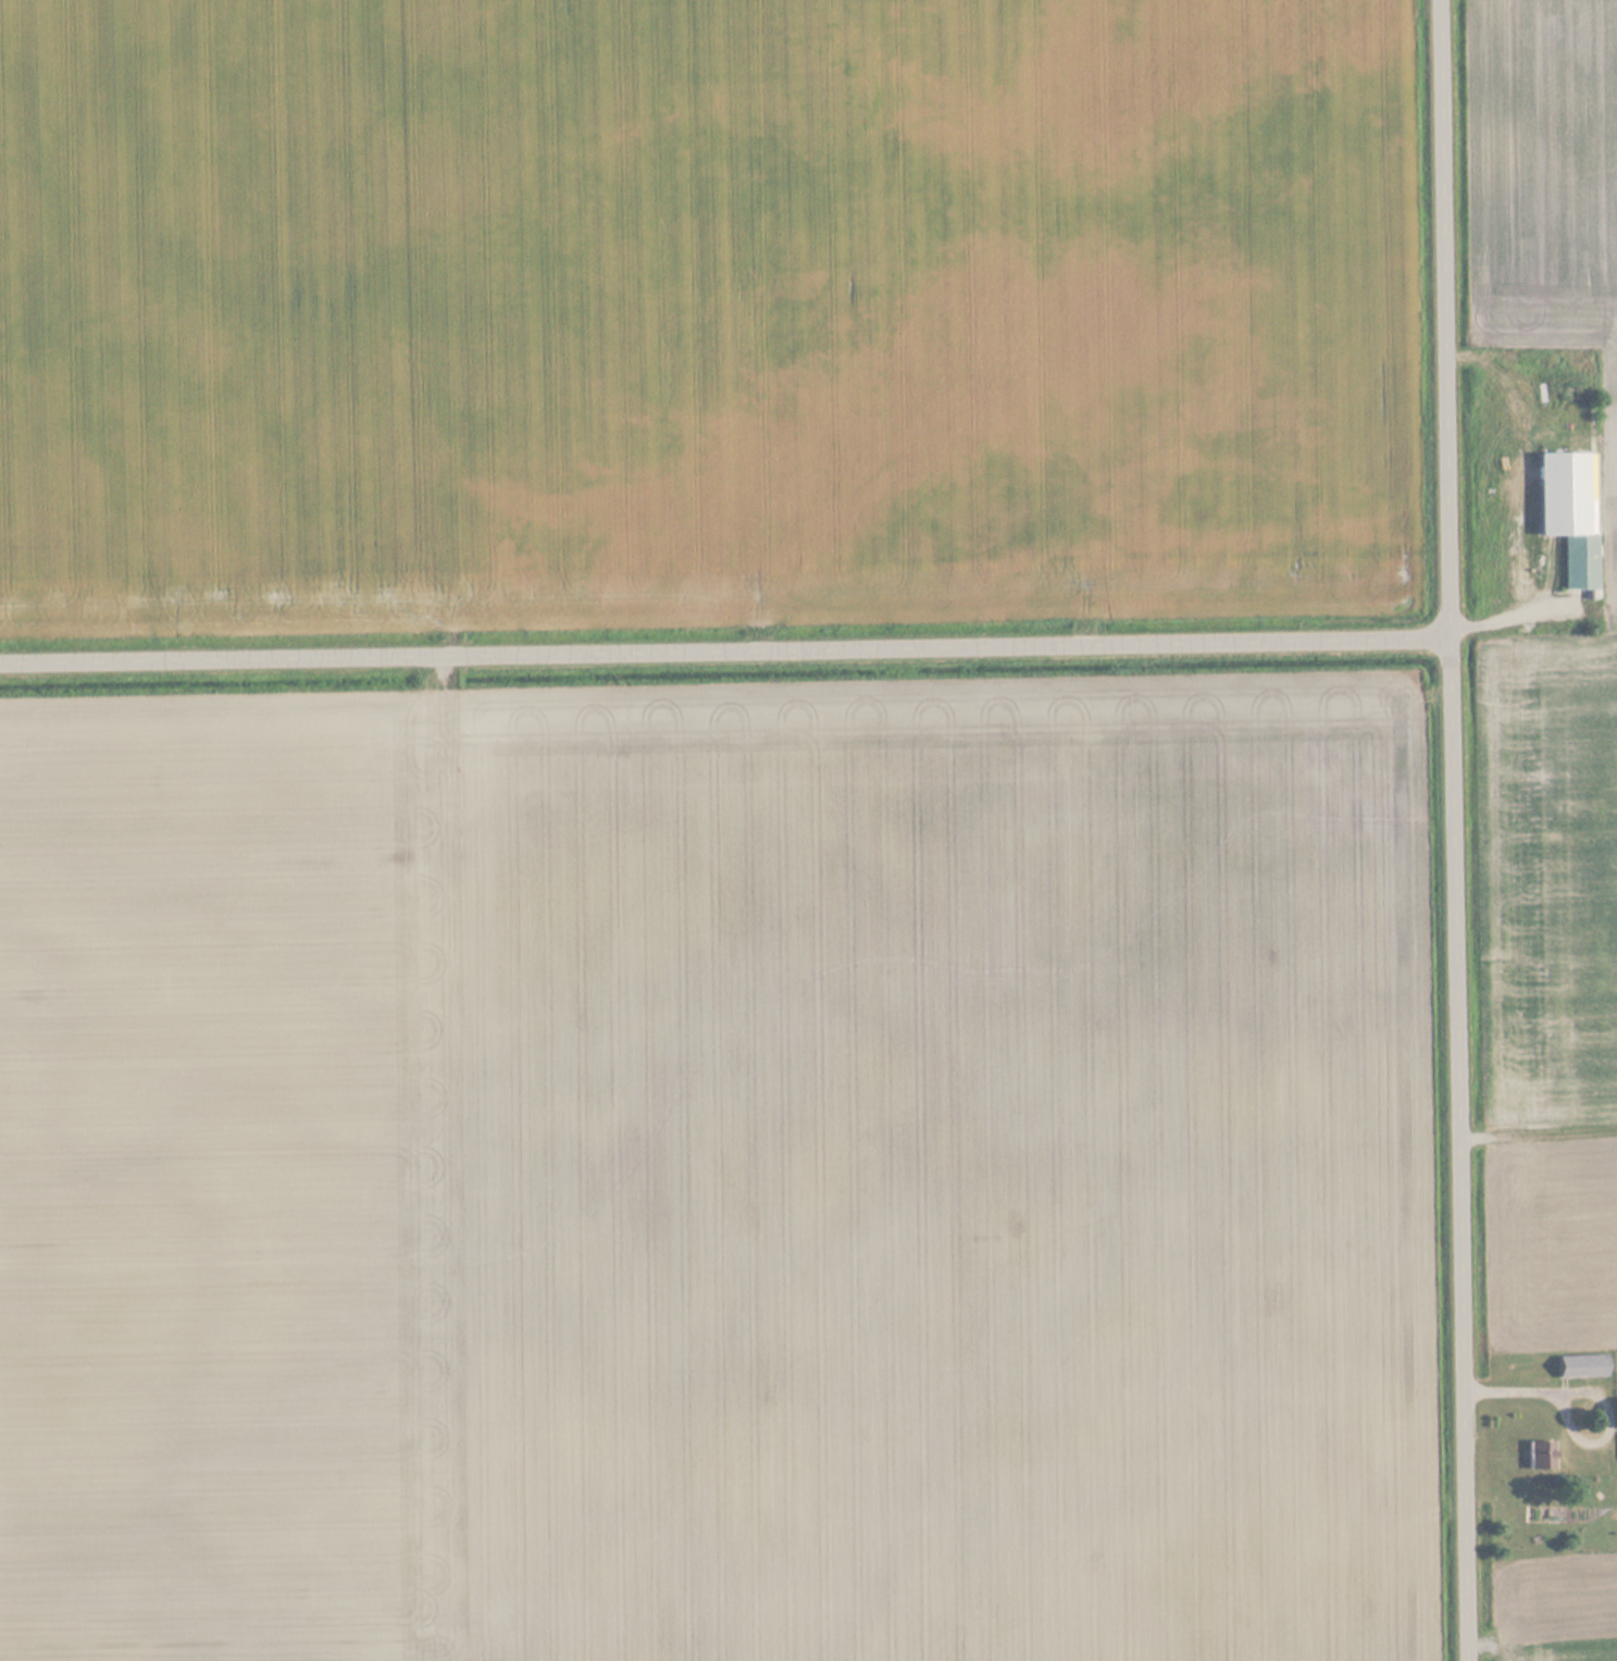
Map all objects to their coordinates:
building: (1579, 561)
road: (726, 649)
road: (1456, 830)
building: (1581, 1366)
building: (1539, 1457)

